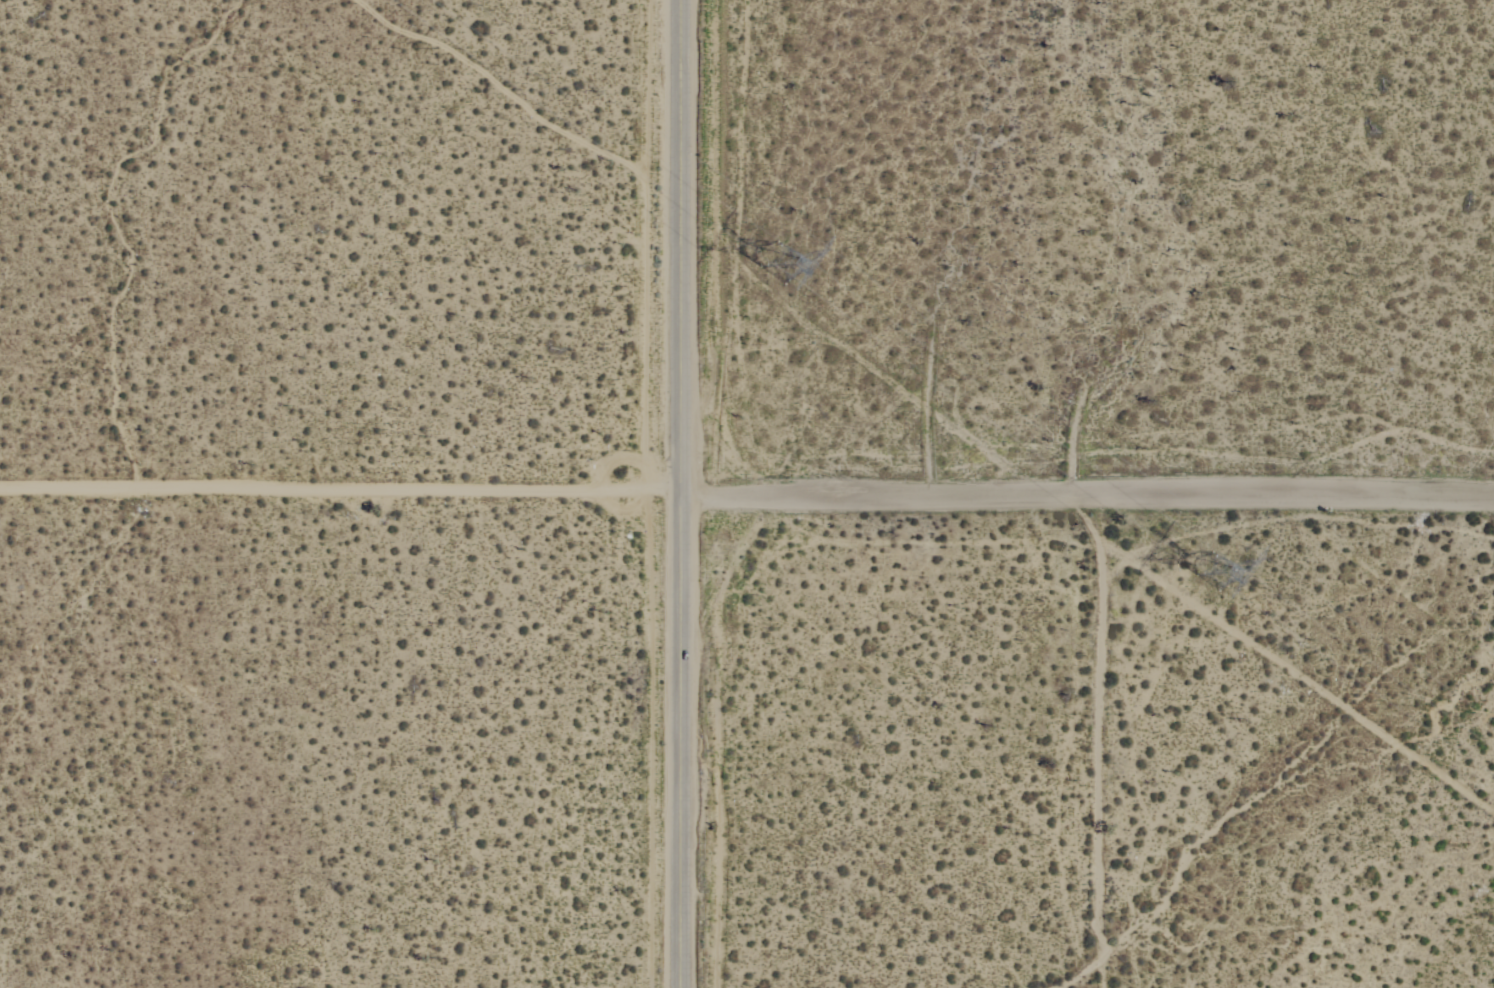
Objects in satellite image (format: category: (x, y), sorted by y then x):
power tower: (771, 256)
road: (342, 487)
road: (1089, 491)
road: (685, 494)
power tower: (1210, 566)
road: (1101, 739)

